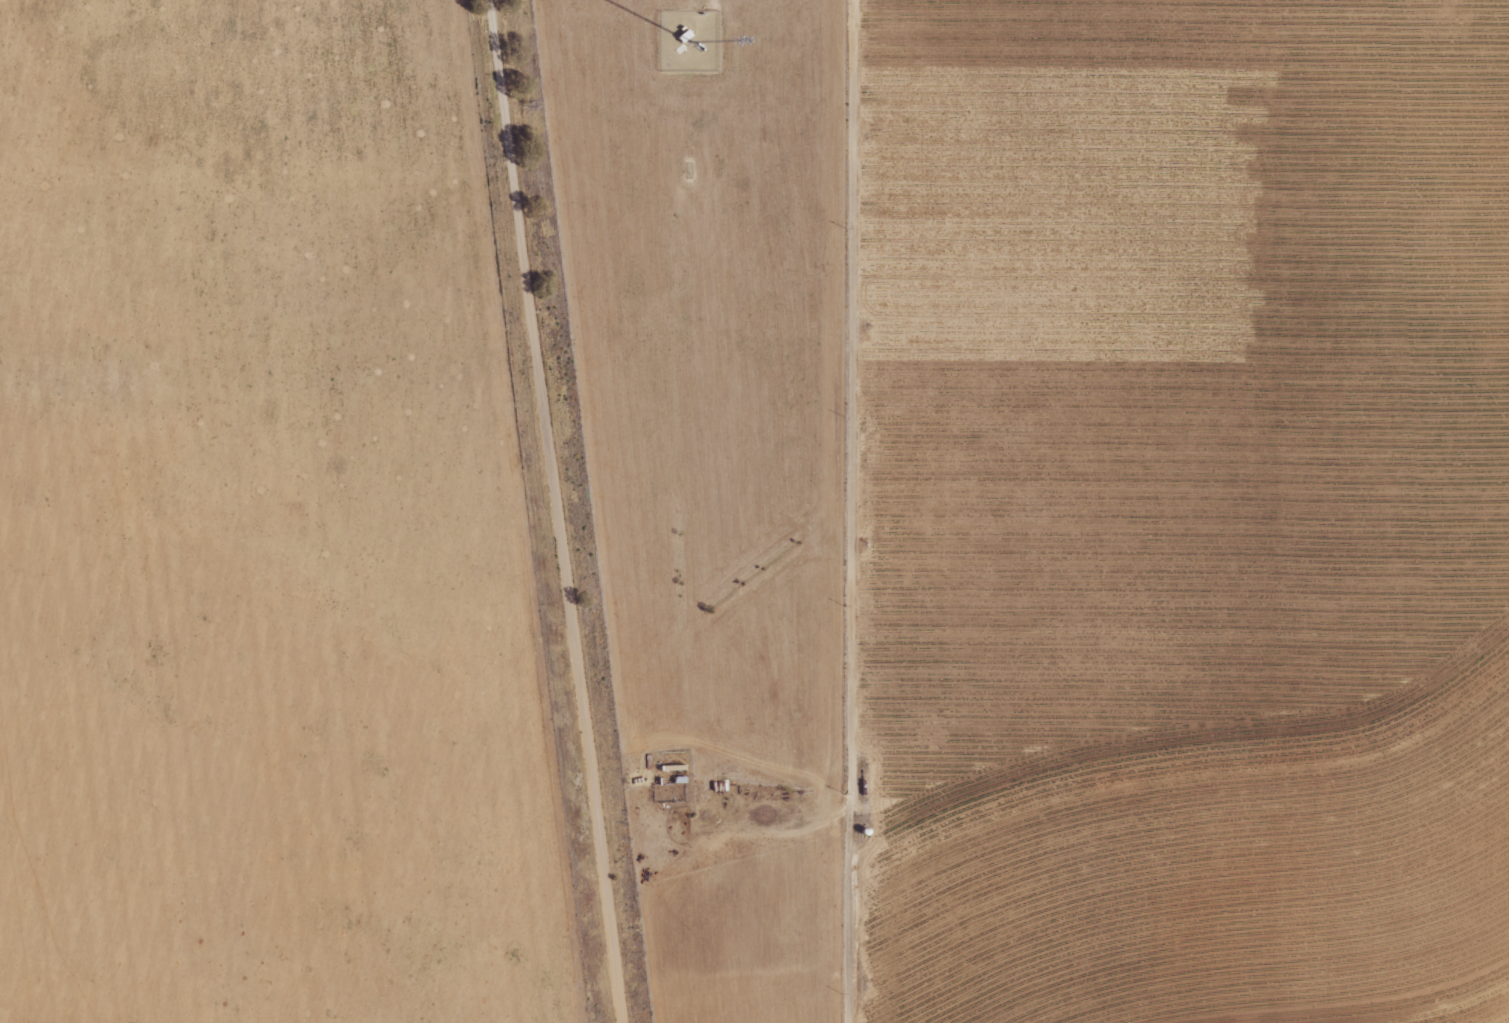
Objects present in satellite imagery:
railway: (544, 511)
road: (847, 511)

